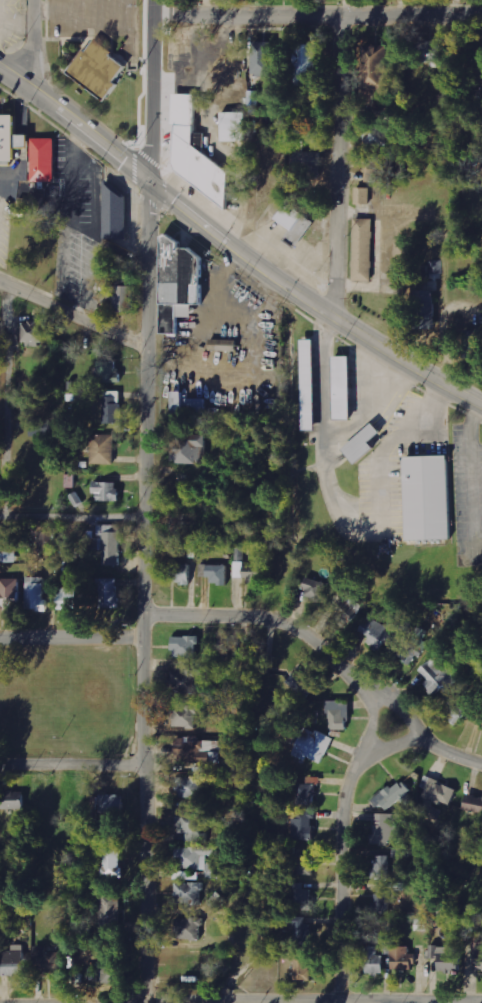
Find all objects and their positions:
road: (316, 13)
road: (30, 43)
building: (264, 58)
building: (306, 63)
building: (377, 67)
building: (99, 69)
road: (150, 89)
building: (234, 127)
building: (376, 135)
building: (11, 138)
building: (198, 154)
building: (304, 156)
building: (44, 160)
road: (335, 164)
building: (376, 168)
traffic signals: (149, 179)
building: (363, 196)
building: (116, 215)
building: (296, 224)
road: (236, 245)
building: (364, 250)
building: (404, 252)
building: (435, 267)
building: (405, 274)
building: (179, 284)
building: (123, 298)
building: (426, 309)
road: (74, 316)
building: (36, 333)
building: (473, 344)
building: (226, 345)
building: (107, 372)
building: (310, 384)
building: (345, 387)
road: (5, 400)
building: (187, 405)
building: (112, 406)
building: (43, 425)
building: (364, 444)
building: (188, 448)
building: (103, 449)
building: (107, 491)
building: (429, 497)
road: (73, 514)
building: (47, 541)
building: (109, 543)
building: (193, 548)
building: (182, 573)
building: (215, 573)
building: (256, 578)
building: (314, 589)
road: (147, 590)
building: (109, 593)
building: (10, 594)
building: (36, 594)
building: (67, 599)
building: (347, 609)
building: (374, 632)
road: (73, 633)
building: (409, 645)
building: (186, 647)
building: (230, 647)
road: (327, 650)
building: (436, 675)
building: (184, 679)
building: (302, 683)
park: (69, 703)
building: (458, 710)
building: (339, 715)
building: (184, 716)
building: (481, 730)
building: (314, 746)
road: (73, 761)
building: (188, 786)
building: (439, 791)
building: (306, 794)
building: (392, 796)
building: (111, 804)
building: (474, 804)
building: (304, 825)
building: (190, 826)
building: (387, 829)
road: (342, 840)
building: (198, 859)
building: (113, 862)
building: (304, 864)
building: (382, 867)
building: (189, 892)
building: (298, 896)
building: (384, 901)
building: (110, 910)
building: (188, 928)
building: (302, 931)
building: (477, 954)
building: (403, 958)
building: (446, 958)
building: (49, 960)
building: (15, 961)
building: (375, 961)
building: (302, 969)
building: (106, 973)
road: (123, 1002)
road: (241, 1002)

